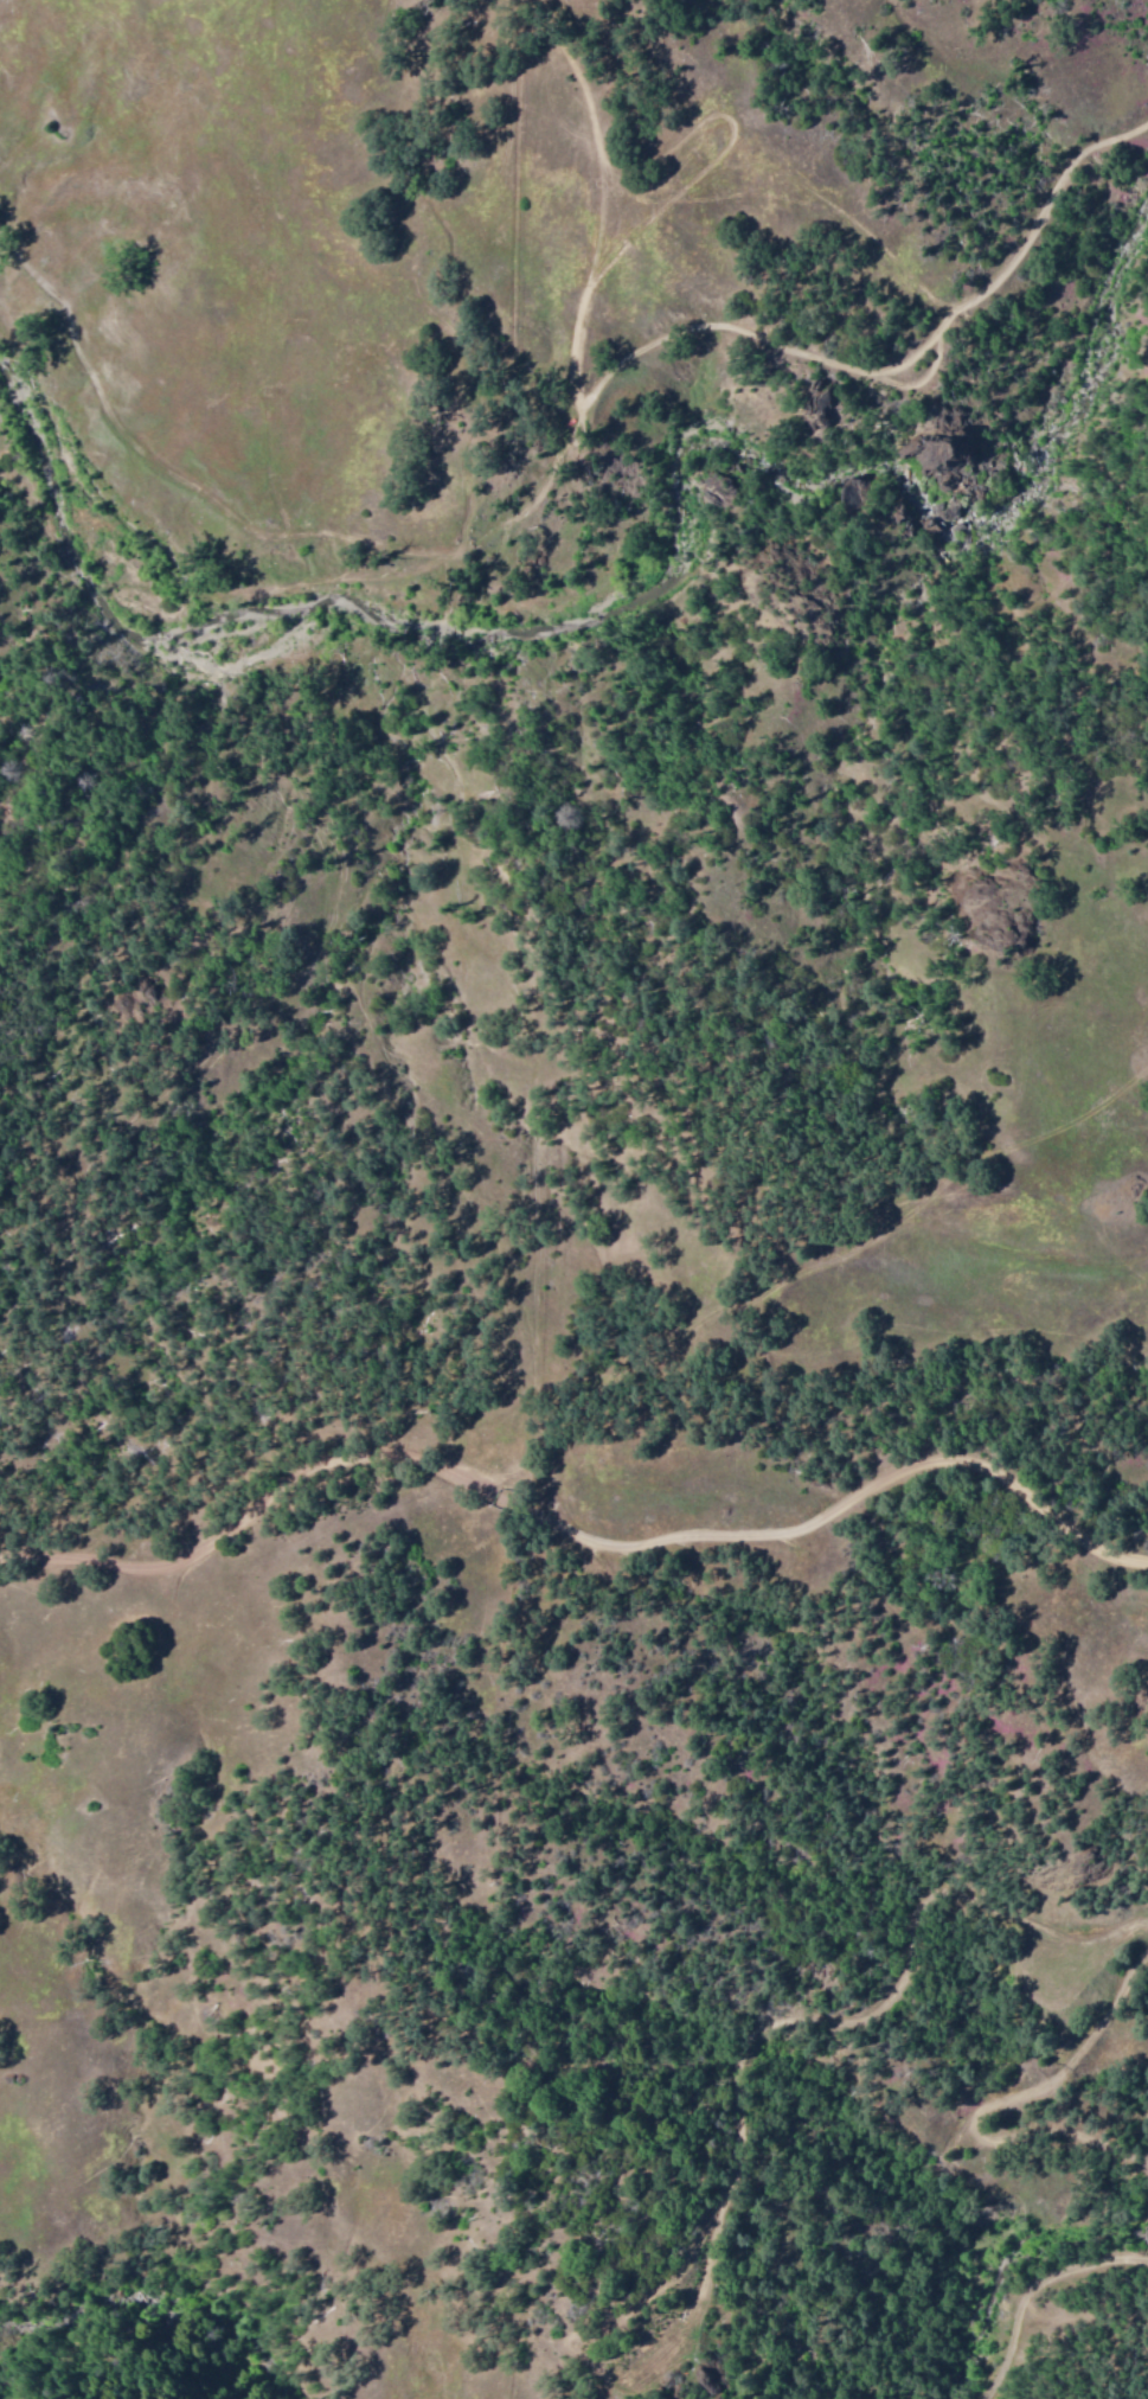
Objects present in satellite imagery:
road: (556, 437)
road: (577, 1529)
road: (1033, 2291)

